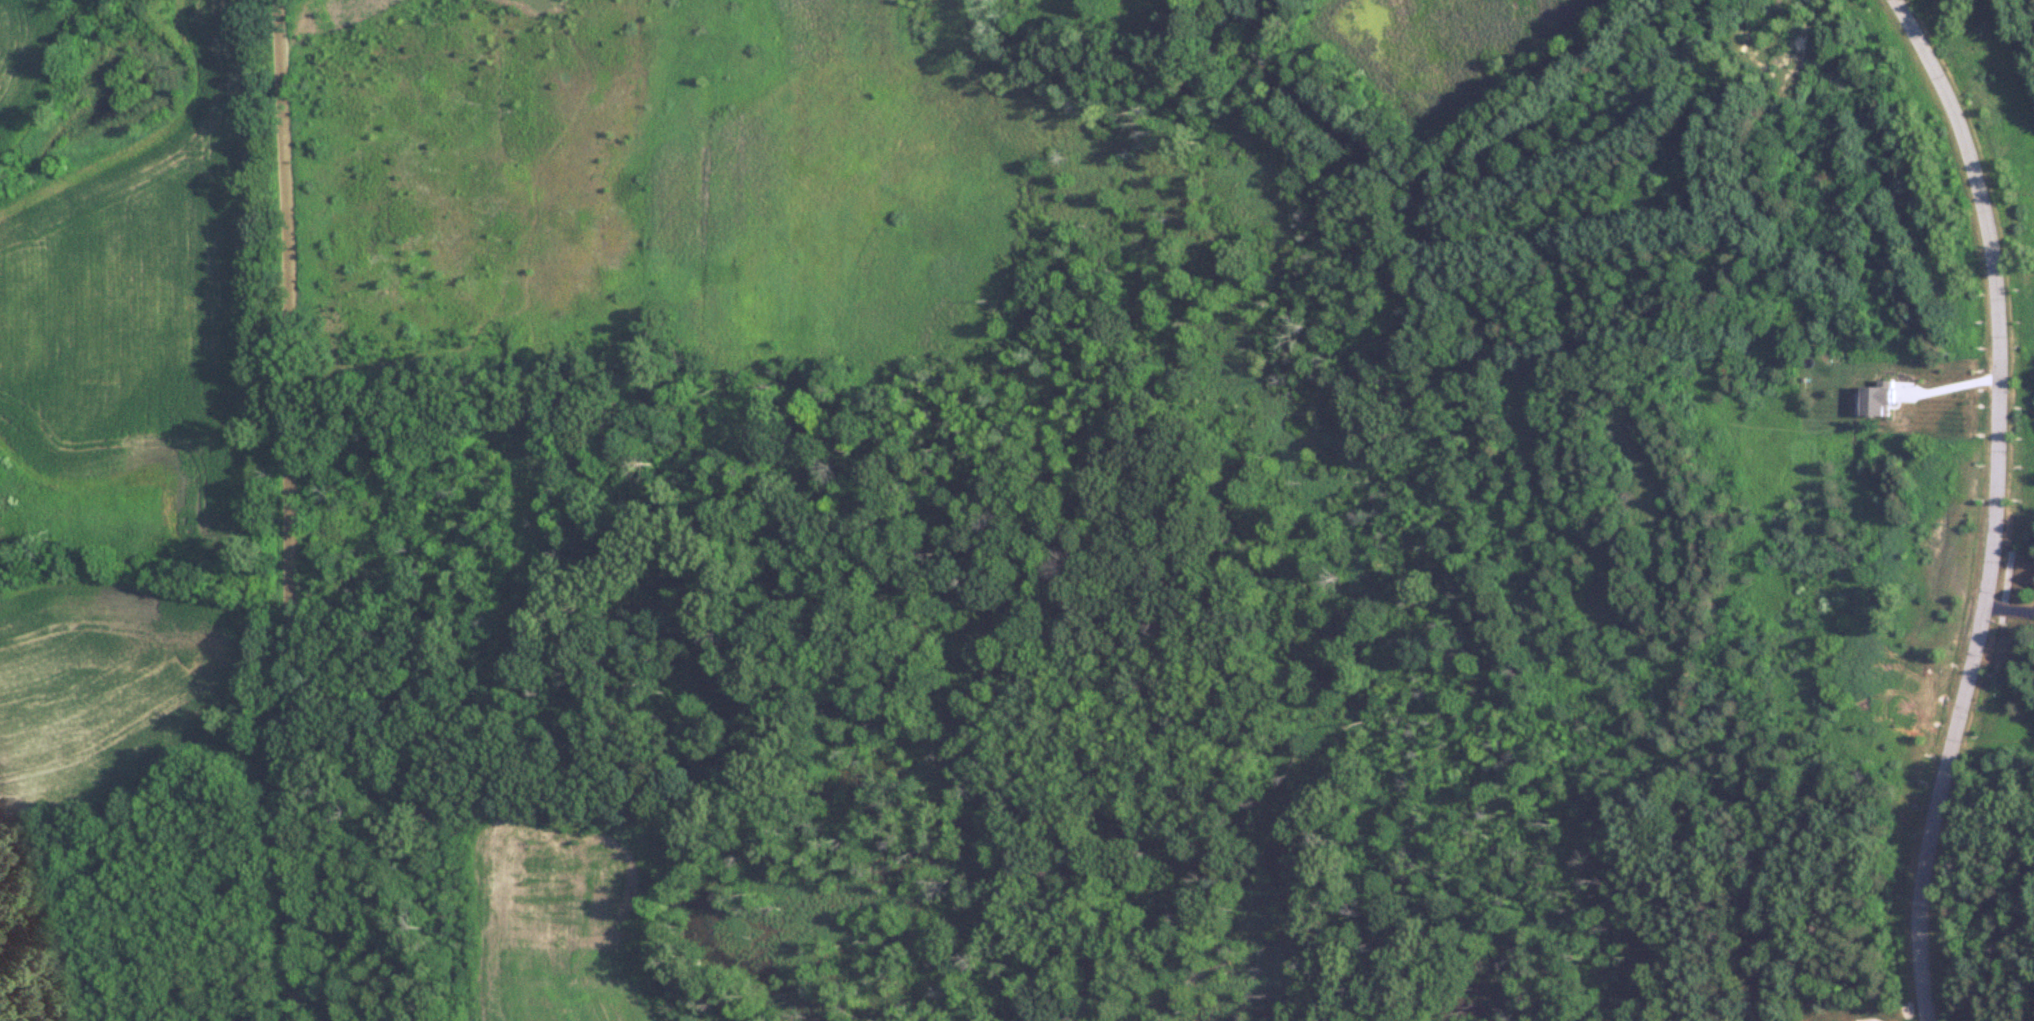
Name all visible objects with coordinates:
road: (1947, 384)
road: (1991, 500)
road: (294, 510)

